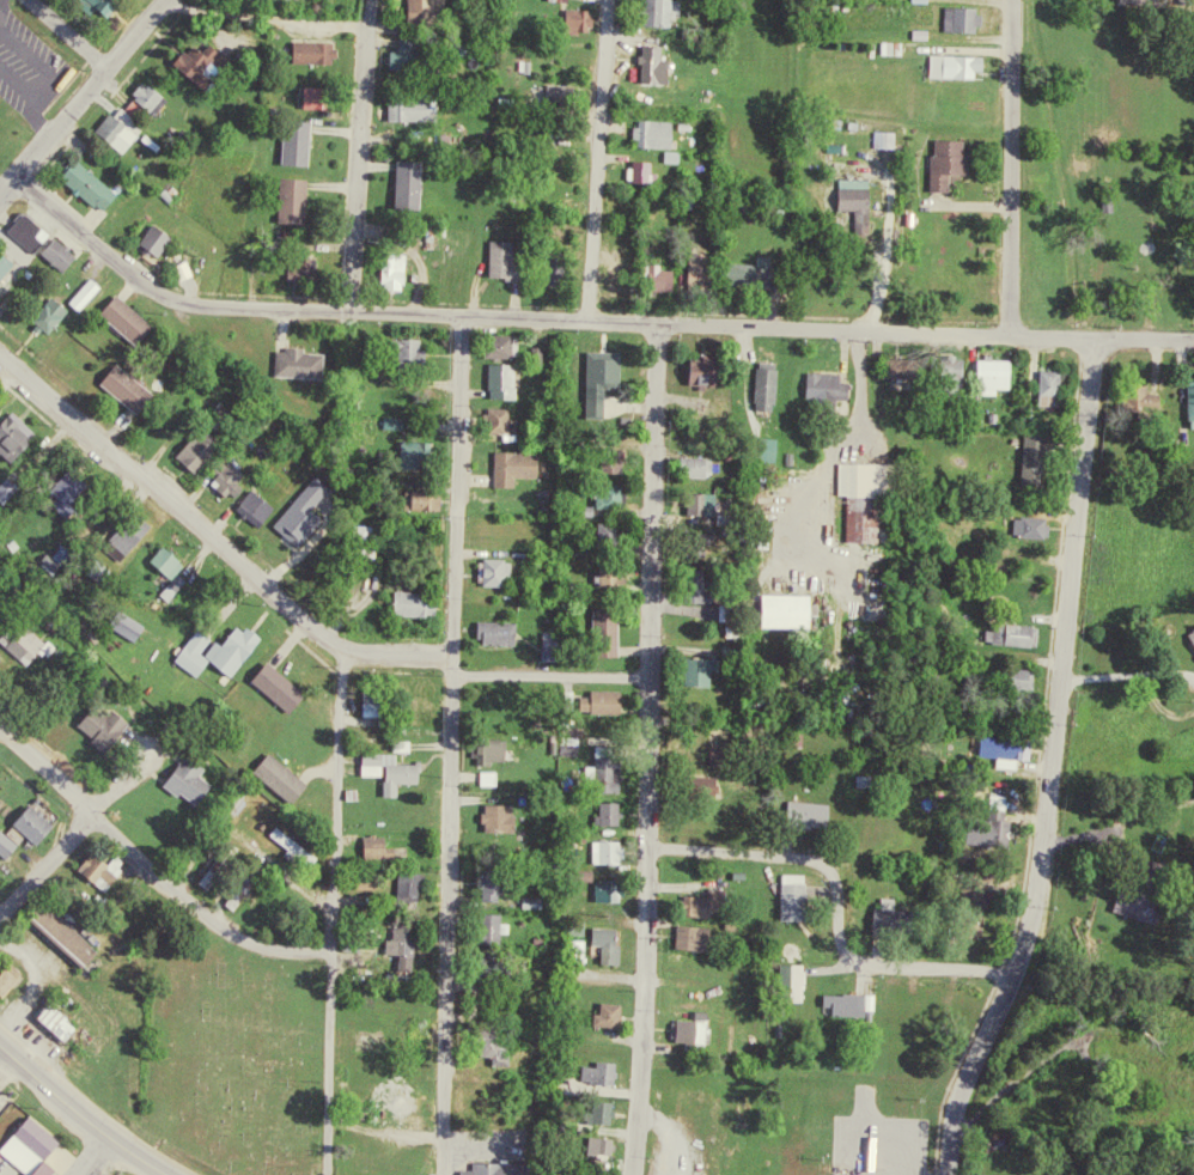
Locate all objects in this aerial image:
building: (566, 0)
building: (930, 0)
building: (1153, 0)
building: (1193, 0)
building: (116, 4)
building: (435, 10)
building: (670, 12)
building: (970, 17)
building: (590, 18)
road: (263, 19)
road: (69, 32)
building: (323, 50)
building: (212, 62)
building: (664, 65)
building: (965, 65)
building: (566, 92)
road: (81, 95)
building: (330, 96)
building: (158, 97)
building: (420, 108)
building: (130, 128)
building: (664, 133)
building: (894, 139)
building: (307, 145)
road: (358, 154)
building: (678, 156)
road: (595, 158)
building: (957, 162)
road: (1009, 165)
building: (651, 171)
building: (418, 183)
building: (99, 185)
building: (303, 199)
building: (865, 201)
road: (970, 203)
road: (888, 232)
building: (165, 238)
building: (68, 254)
building: (511, 258)
building: (708, 269)
building: (10, 270)
building: (403, 270)
building: (764, 272)
building: (670, 278)
building: (95, 293)
road: (770, 306)
building: (60, 313)
road: (583, 317)
building: (139, 319)
building: (421, 348)
building: (306, 363)
building: (895, 364)
building: (696, 367)
building: (714, 369)
building: (986, 372)
building: (945, 373)
building: (1004, 375)
building: (610, 378)
building: (511, 380)
building: (759, 382)
building: (820, 382)
building: (775, 383)
building: (1044, 384)
building: (138, 388)
building: (1056, 388)
building: (1137, 397)
building: (1161, 400)
building: (1188, 400)
building: (505, 415)
building: (20, 437)
building: (755, 444)
building: (779, 449)
building: (205, 451)
building: (432, 452)
building: (620, 456)
building: (1029, 456)
building: (1044, 457)
building: (692, 464)
building: (523, 467)
building: (75, 492)
building: (860, 492)
building: (619, 493)
building: (252, 494)
building: (433, 498)
building: (696, 500)
building: (317, 510)
building: (1025, 524)
building: (134, 537)
road: (211, 540)
building: (694, 541)
building: (176, 560)
building: (504, 571)
building: (688, 582)
building: (424, 603)
building: (727, 605)
building: (780, 607)
building: (614, 620)
building: (136, 625)
building: (506, 631)
building: (1004, 631)
building: (1188, 638)
building: (33, 643)
building: (243, 649)
building: (203, 652)
building: (694, 665)
building: (712, 670)
road: (550, 675)
building: (1011, 675)
building: (288, 687)
building: (596, 698)
building: (371, 700)
building: (382, 702)
building: (408, 704)
building: (430, 711)
building: (109, 724)
road: (450, 743)
building: (482, 745)
building: (578, 745)
building: (998, 745)
road: (651, 748)
building: (500, 751)
road: (1050, 762)
building: (383, 766)
building: (599, 766)
building: (726, 766)
building: (615, 768)
building: (291, 778)
building: (497, 778)
building: (200, 780)
road: (335, 802)
building: (603, 810)
building: (493, 814)
building: (615, 814)
building: (817, 814)
building: (508, 817)
building: (983, 821)
building: (30, 830)
building: (370, 842)
building: (384, 846)
building: (601, 848)
building: (615, 852)
building: (315, 856)
road: (44, 864)
building: (110, 869)
road: (151, 871)
building: (360, 878)
building: (403, 881)
building: (488, 881)
building: (418, 883)
building: (500, 883)
building: (603, 887)
road: (7, 893)
building: (787, 894)
building: (695, 900)
building: (542, 902)
building: (711, 903)
road: (836, 906)
building: (965, 906)
building: (1146, 907)
building: (885, 914)
building: (569, 923)
building: (485, 925)
building: (500, 926)
building: (686, 933)
building: (73, 934)
building: (705, 937)
building: (410, 939)
building: (601, 942)
building: (616, 943)
building: (396, 944)
building: (569, 948)
building: (482, 964)
building: (800, 976)
building: (786, 979)
building: (14, 981)
building: (843, 1000)
building: (603, 1012)
building: (619, 1015)
building: (66, 1019)
building: (697, 1030)
building: (485, 1040)
building: (508, 1053)
road: (328, 1066)
building: (593, 1070)
building: (609, 1072)
building: (595, 1109)
building: (610, 1112)
road: (81, 1114)
building: (26, 1144)
building: (593, 1144)
building: (608, 1144)
road: (99, 1156)
building: (488, 1167)
building: (115, 1174)
building: (128, 1174)

